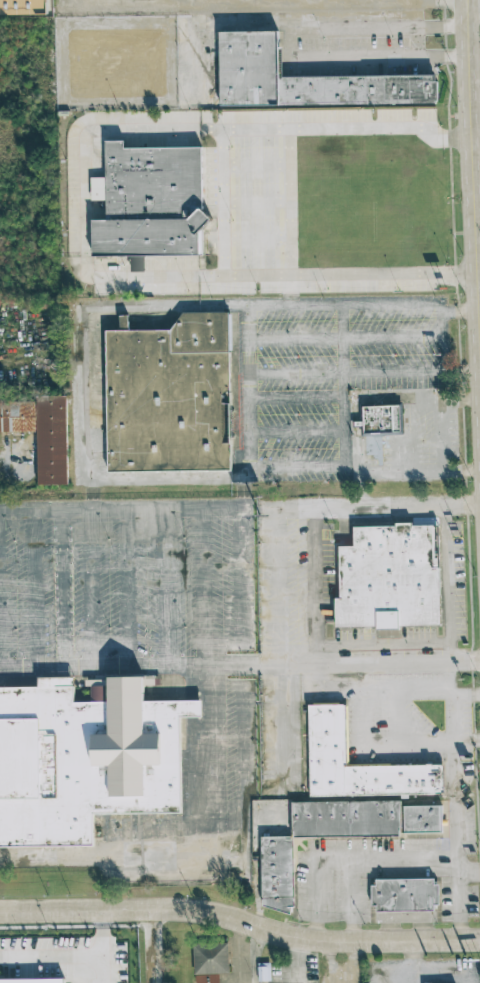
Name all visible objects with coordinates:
road: (464, 4)
road: (467, 4)
building: (22, 7)
road: (473, 8)
road: (218, 25)
road: (289, 47)
building: (303, 83)
road: (474, 156)
road: (257, 163)
road: (84, 199)
building: (151, 201)
road: (224, 201)
road: (258, 201)
road: (292, 201)
road: (259, 238)
building: (137, 264)
road: (460, 304)
road: (345, 306)
road: (346, 337)
road: (341, 341)
road: (379, 374)
building: (167, 397)
road: (251, 408)
building: (17, 416)
building: (379, 426)
building: (51, 439)
road: (16, 471)
road: (365, 471)
road: (365, 507)
road: (125, 510)
building: (388, 577)
road: (288, 587)
road: (312, 587)
road: (449, 642)
road: (450, 654)
road: (33, 667)
road: (99, 667)
road: (422, 693)
building: (325, 735)
road: (385, 746)
building: (83, 758)
road: (250, 790)
road: (454, 801)
building: (361, 819)
road: (360, 857)
building: (274, 874)
building: (403, 895)
road: (240, 918)
road: (148, 947)
road: (414, 957)
road: (72, 959)
building: (209, 962)
building: (263, 971)
road: (433, 975)
building: (32, 980)

